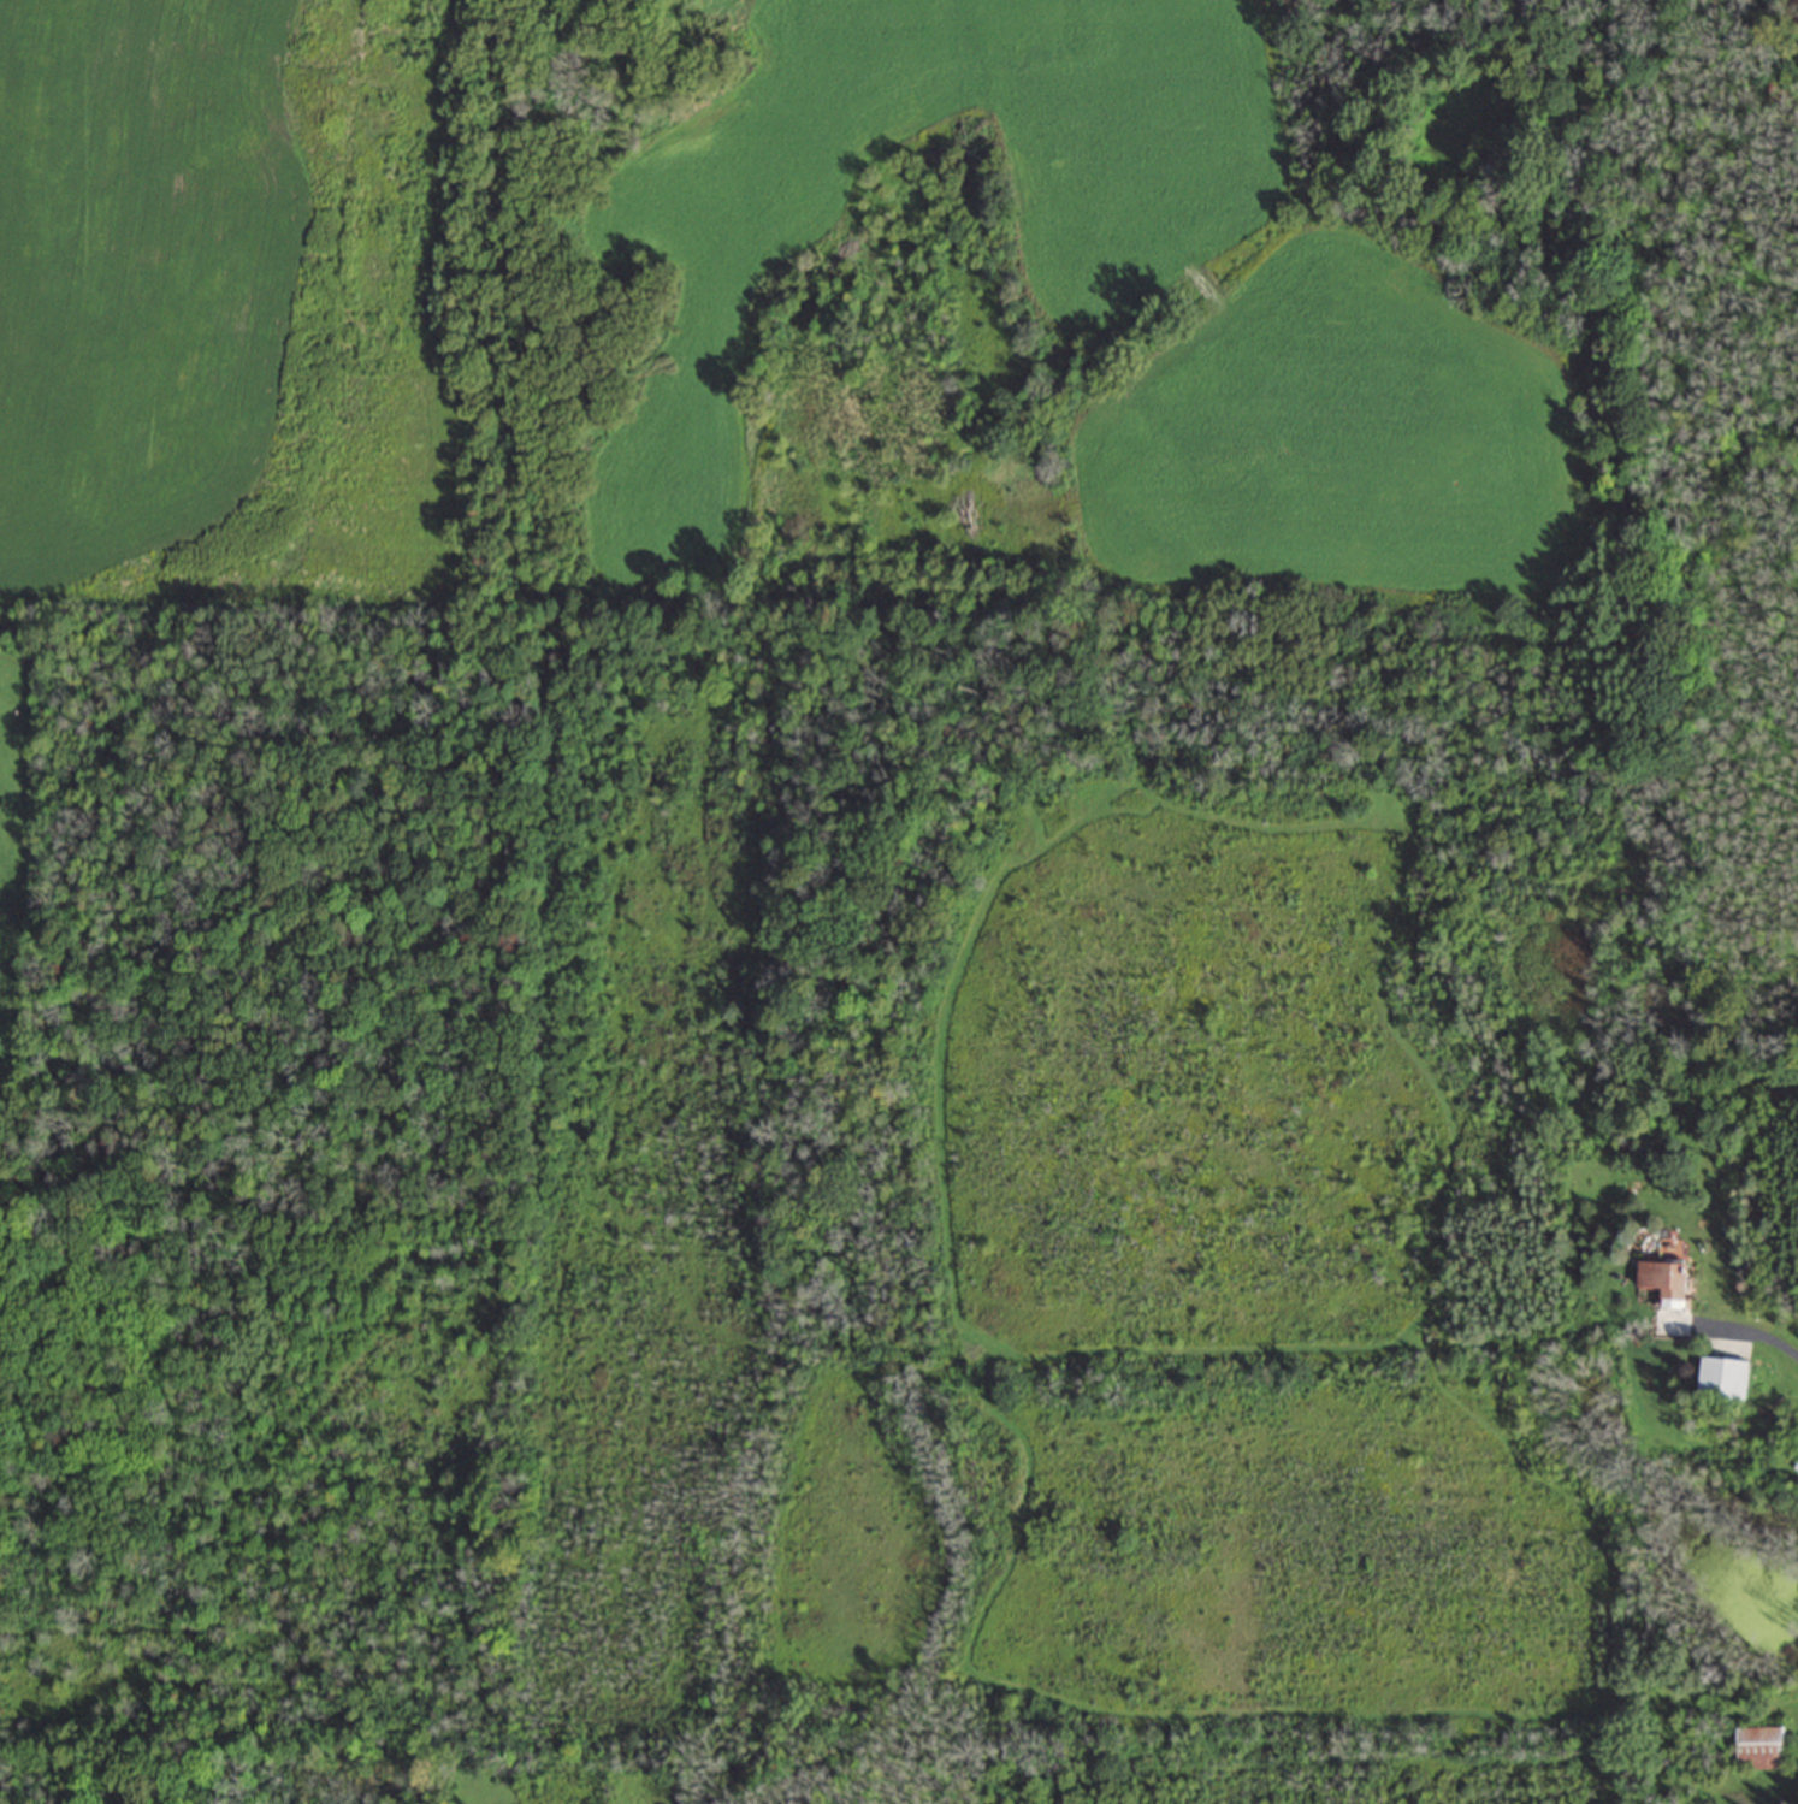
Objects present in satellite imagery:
building: (1668, 1294)
building: (1726, 1376)
building: (1761, 1745)

